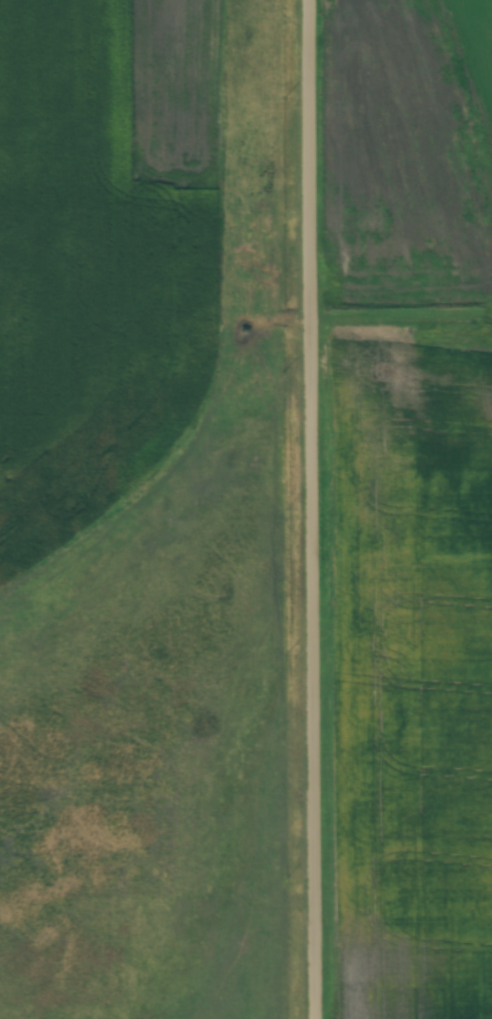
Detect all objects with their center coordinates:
road: (318, 509)

